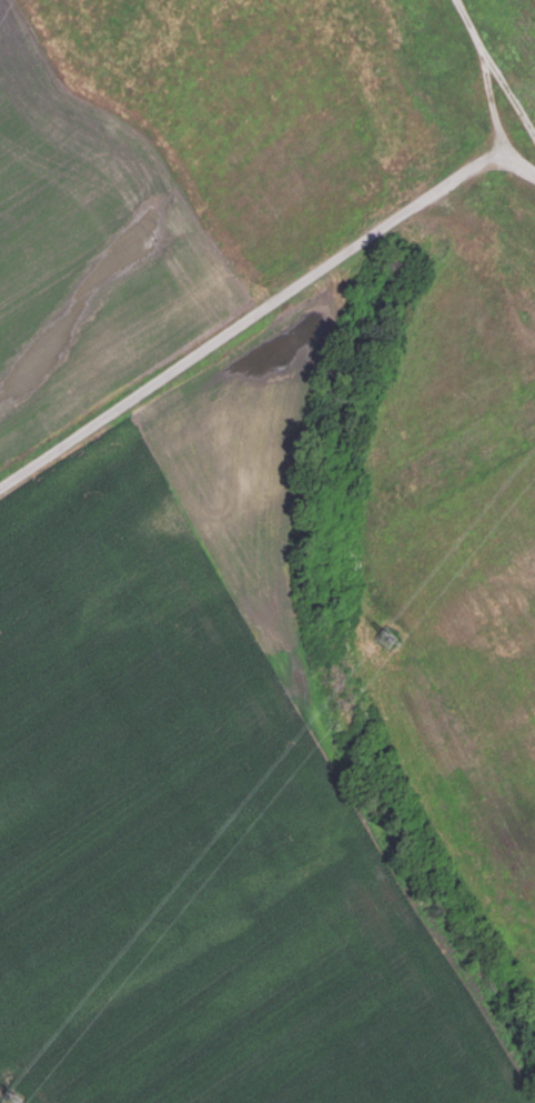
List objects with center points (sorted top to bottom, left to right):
road: (485, 77)
road: (518, 156)
crop: (184, 166)
road: (248, 315)
power tower: (385, 636)
crop: (275, 691)

